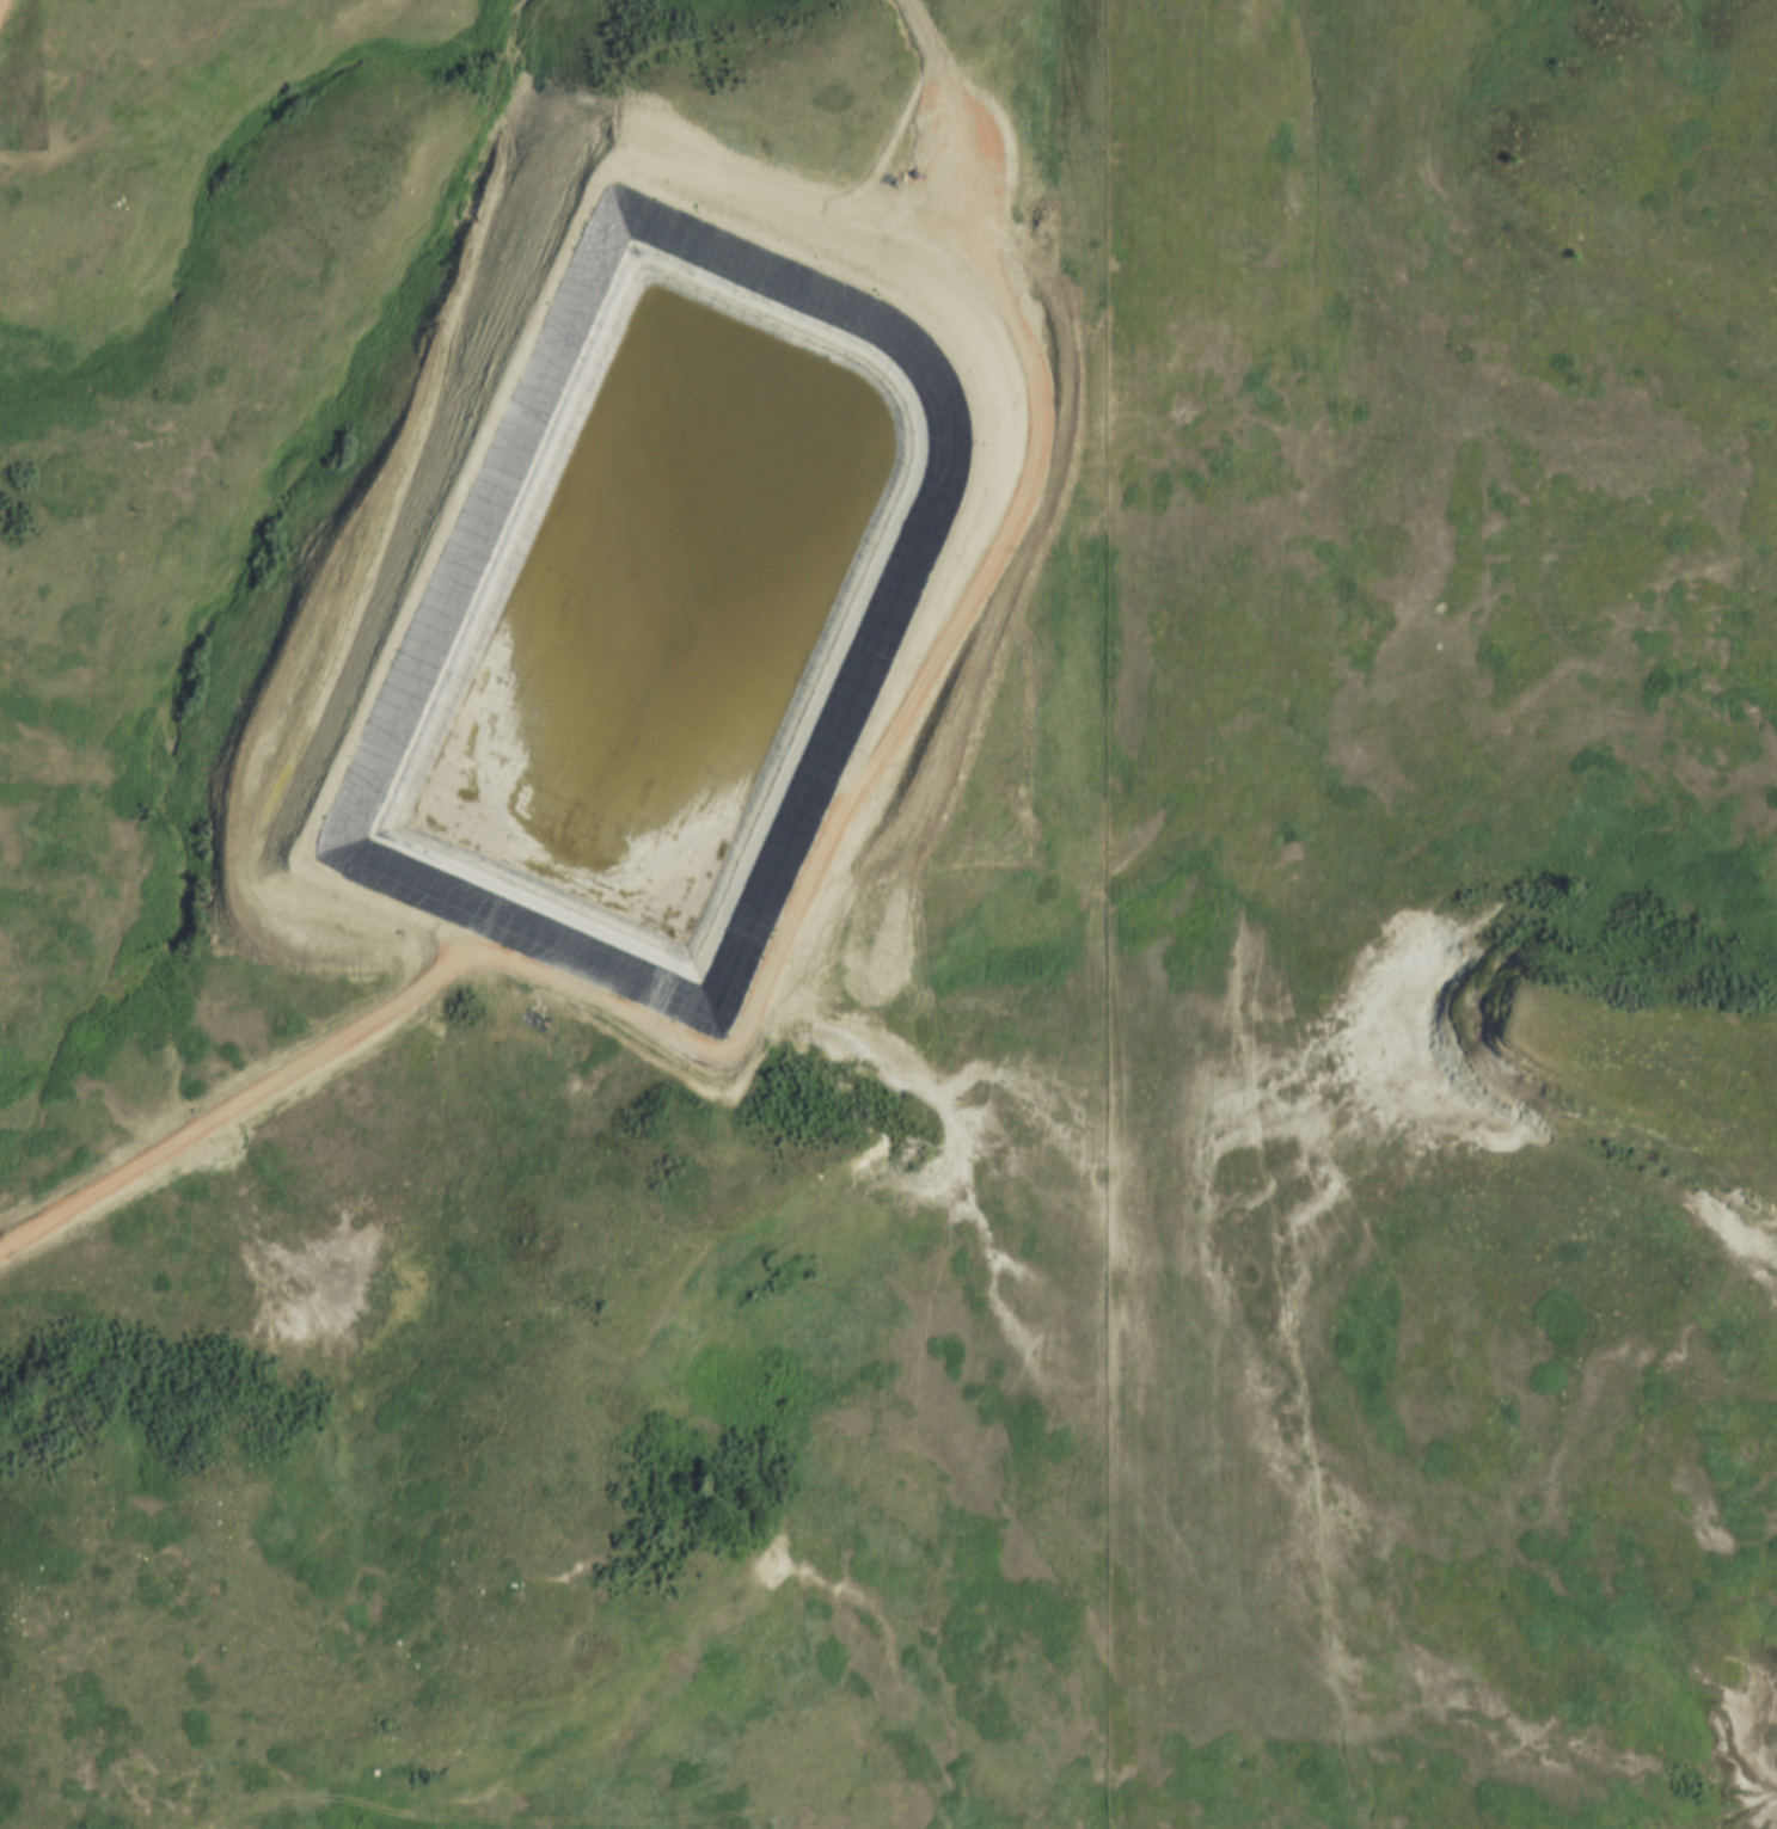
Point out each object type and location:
road: (1, 2)

